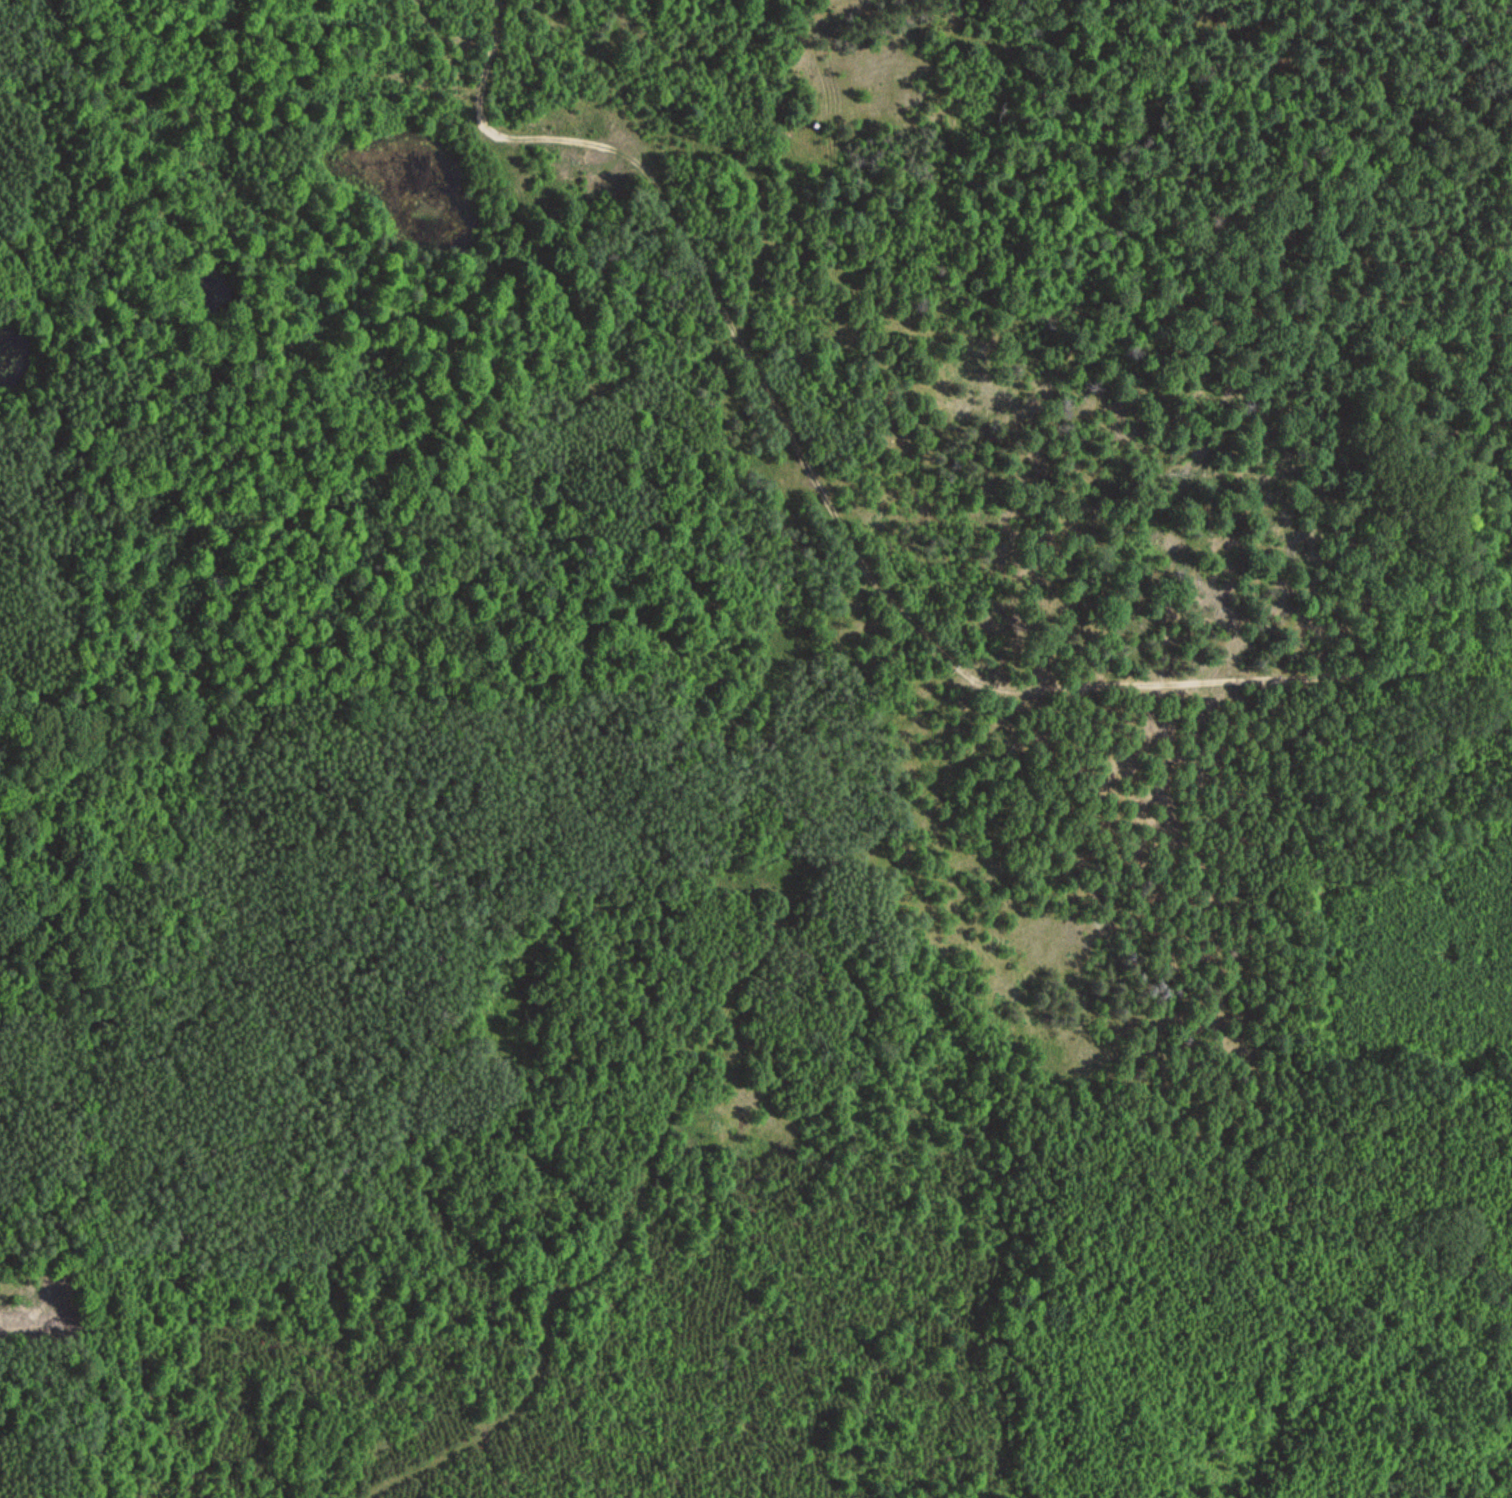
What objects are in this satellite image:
road: (1319, 78)

